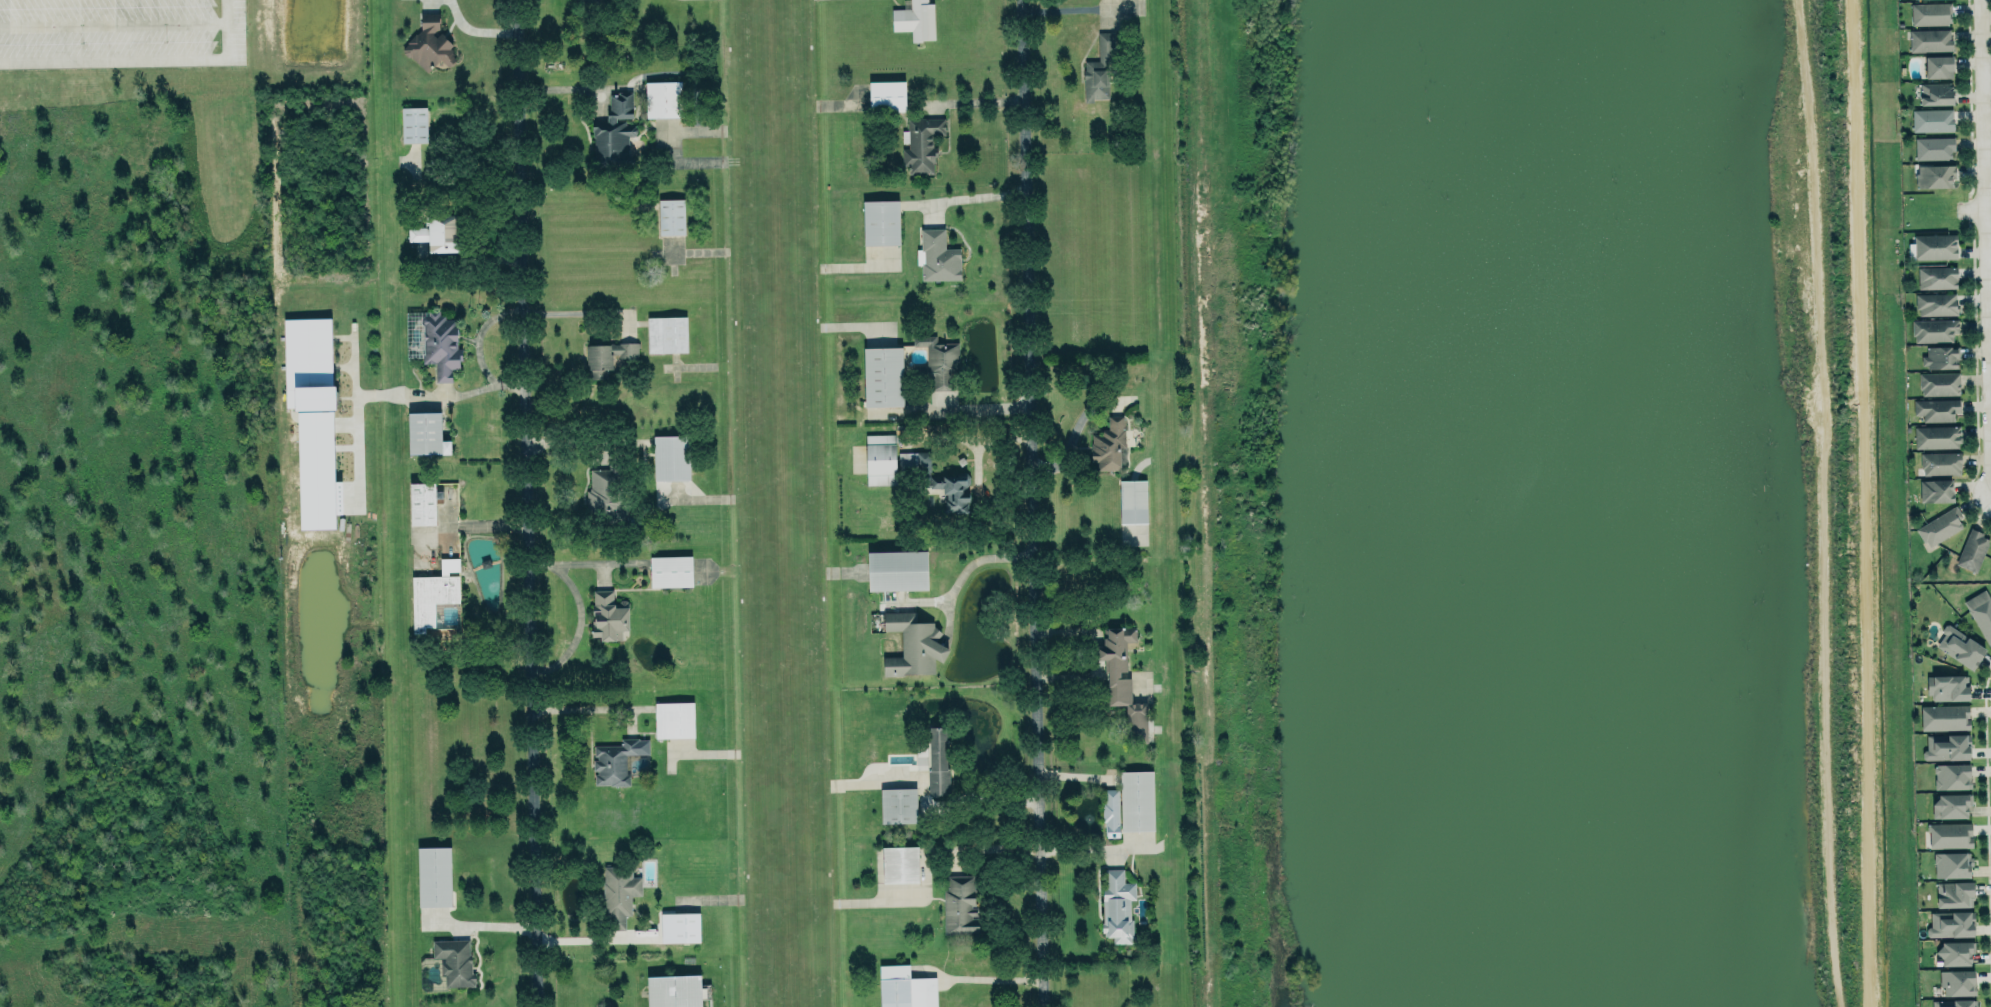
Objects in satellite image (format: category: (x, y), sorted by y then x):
road: (1070, 7)
building: (1931, 12)
building: (914, 19)
road: (112, 23)
road: (477, 31)
parking lot: (123, 32)
building: (1930, 39)
building: (429, 42)
road: (140, 58)
building: (1938, 64)
building: (1100, 68)
road: (1987, 80)
building: (1935, 92)
building: (886, 95)
building: (663, 98)
road: (977, 101)
building: (1932, 119)
building: (413, 124)
building: (614, 131)
building: (920, 143)
building: (1933, 146)
road: (1986, 170)
building: (1934, 175)
road: (978, 197)
road: (1948, 211)
building: (671, 216)
building: (880, 222)
building: (1934, 245)
building: (937, 256)
building: (1936, 277)
building: (1935, 303)
road: (577, 312)
building: (1933, 328)
building: (666, 334)
building: (433, 341)
building: (607, 356)
building: (1940, 356)
building: (937, 361)
building: (882, 376)
building: (1938, 382)
road: (984, 408)
building: (1936, 408)
building: (312, 415)
building: (425, 431)
building: (1937, 436)
building: (1109, 444)
building: (671, 457)
building: (880, 459)
building: (1939, 462)
building: (936, 480)
building: (1935, 490)
building: (603, 491)
airport taxiway: (384, 503)
building: (422, 503)
road: (530, 503)
airport runway: (772, 503)
road: (1035, 503)
building: (1132, 503)
airport taxiway: (1162, 503)
building: (1938, 525)
building: (1972, 549)
road: (978, 561)
building: (670, 570)
building: (897, 570)
building: (430, 596)
building: (1981, 612)
building: (608, 614)
building: (912, 645)
building: (1959, 645)
building: (1122, 680)
building: (1947, 687)
road: (585, 706)
building: (1944, 716)
building: (674, 719)
building: (1946, 746)
building: (616, 760)
building: (938, 760)
building: (1951, 776)
road: (983, 794)
building: (1137, 800)
building: (898, 804)
building: (1950, 805)
building: (1110, 811)
building: (1949, 834)
road: (1077, 847)
building: (899, 863)
building: (1951, 864)
building: (434, 876)
building: (1953, 893)
building: (618, 894)
building: (959, 905)
building: (1117, 905)
building: (1950, 923)
building: (679, 926)
building: (1955, 952)
building: (454, 961)
road: (982, 979)
building: (1957, 981)
building: (905, 988)
building: (673, 990)
building: (1954, 1003)

